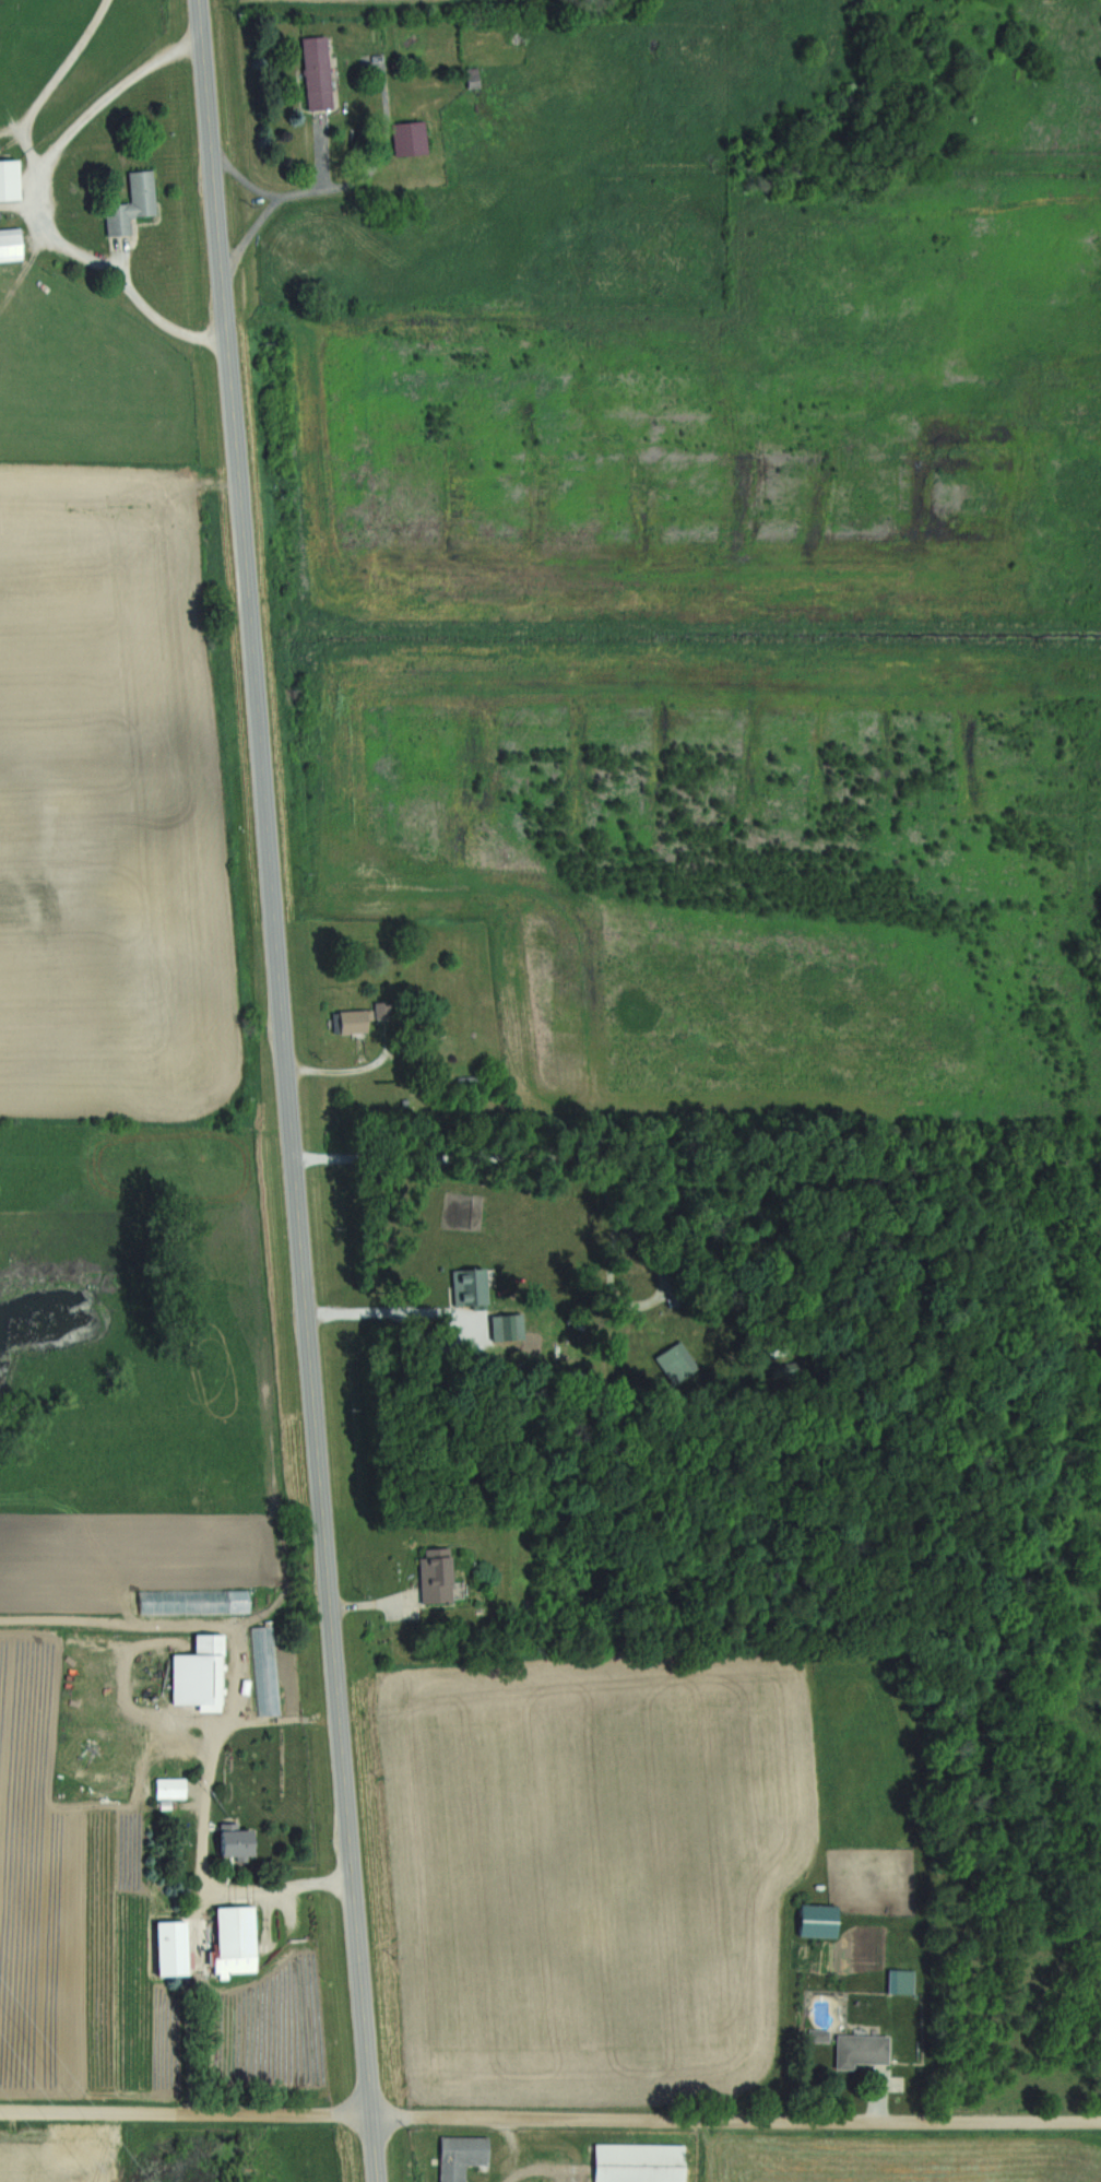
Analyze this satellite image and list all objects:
building: (320, 73)
building: (473, 79)
road: (54, 86)
building: (410, 138)
road: (386, 144)
building: (10, 180)
road: (291, 193)
road: (33, 204)
building: (131, 204)
road: (16, 205)
road: (250, 234)
building: (11, 245)
building: (366, 1016)
road: (351, 1069)
road: (288, 1090)
road: (585, 1175)
building: (467, 1285)
road: (383, 1313)
building: (507, 1326)
building: (675, 1366)
building: (436, 1574)
building: (239, 1602)
road: (365, 1604)
building: (265, 1671)
building: (201, 1674)
building: (167, 1786)
road: (206, 1826)
building: (241, 1845)
building: (818, 1920)
building: (236, 1933)
building: (902, 1981)
building: (819, 2034)
building: (861, 2050)
road: (879, 2097)
road: (549, 2120)
road: (10, 2147)
building: (462, 2156)
building: (639, 2162)
building: (552, 2167)

